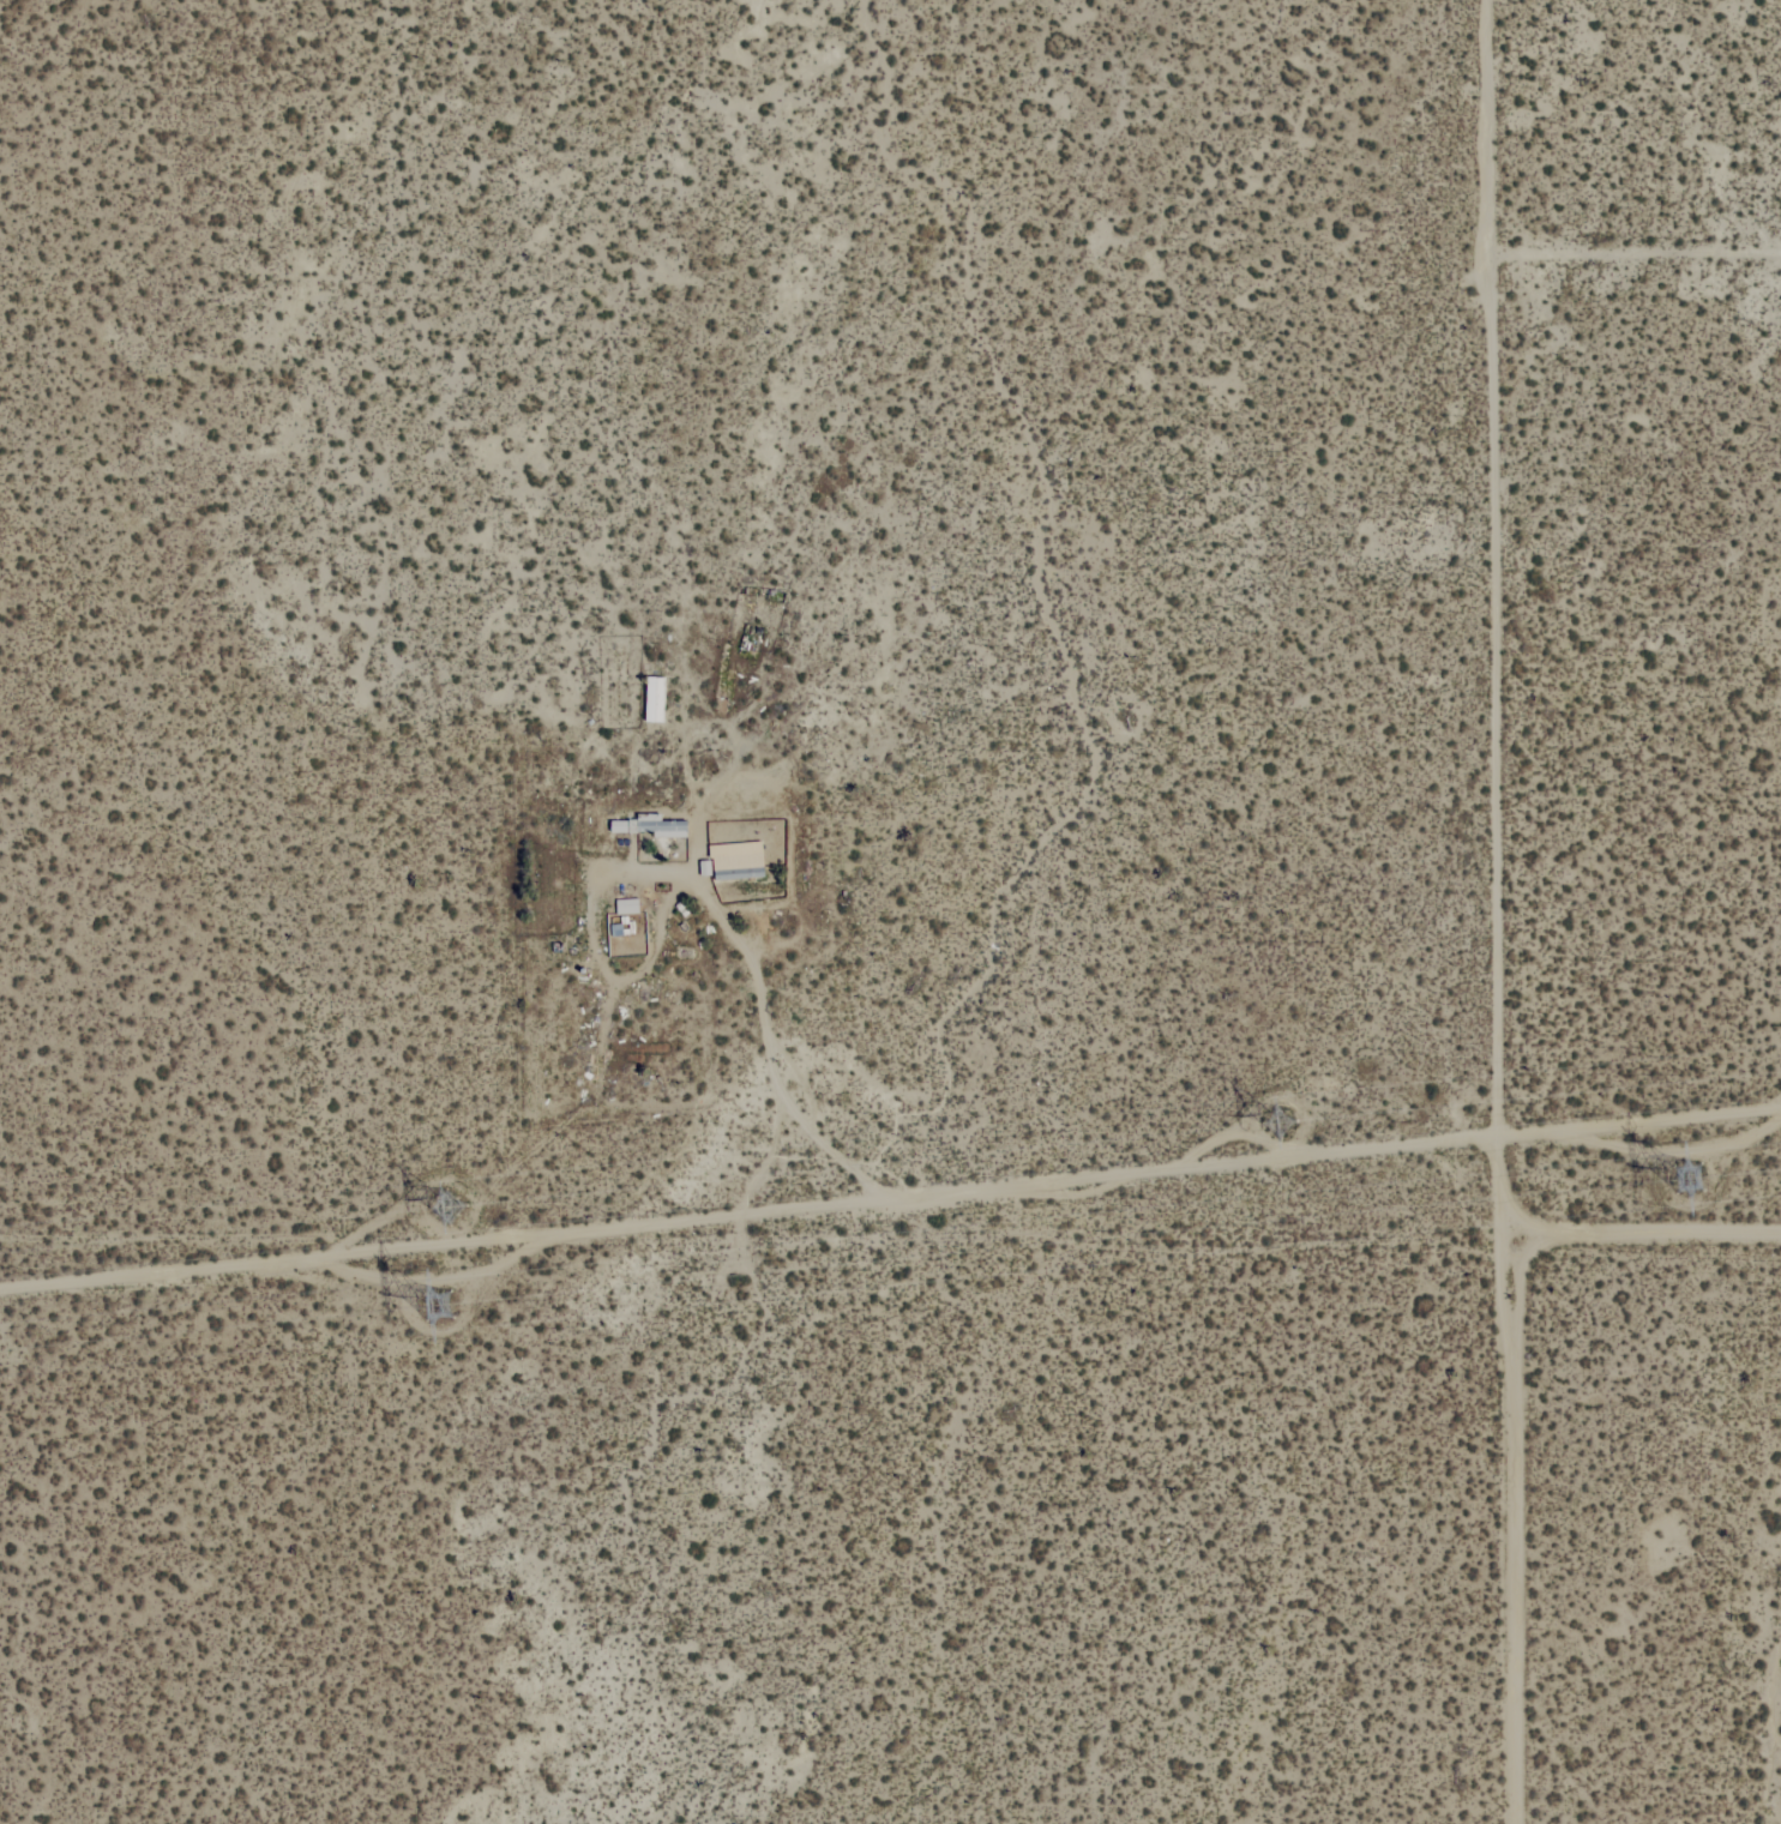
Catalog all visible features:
road: (1633, 248)
building: (654, 703)
road: (1504, 911)
road: (735, 940)
road: (782, 1101)
power tower: (1209, 1142)
power tower: (1704, 1178)
road: (891, 1209)
power tower: (465, 1217)
road: (1650, 1246)
power tower: (457, 1318)

